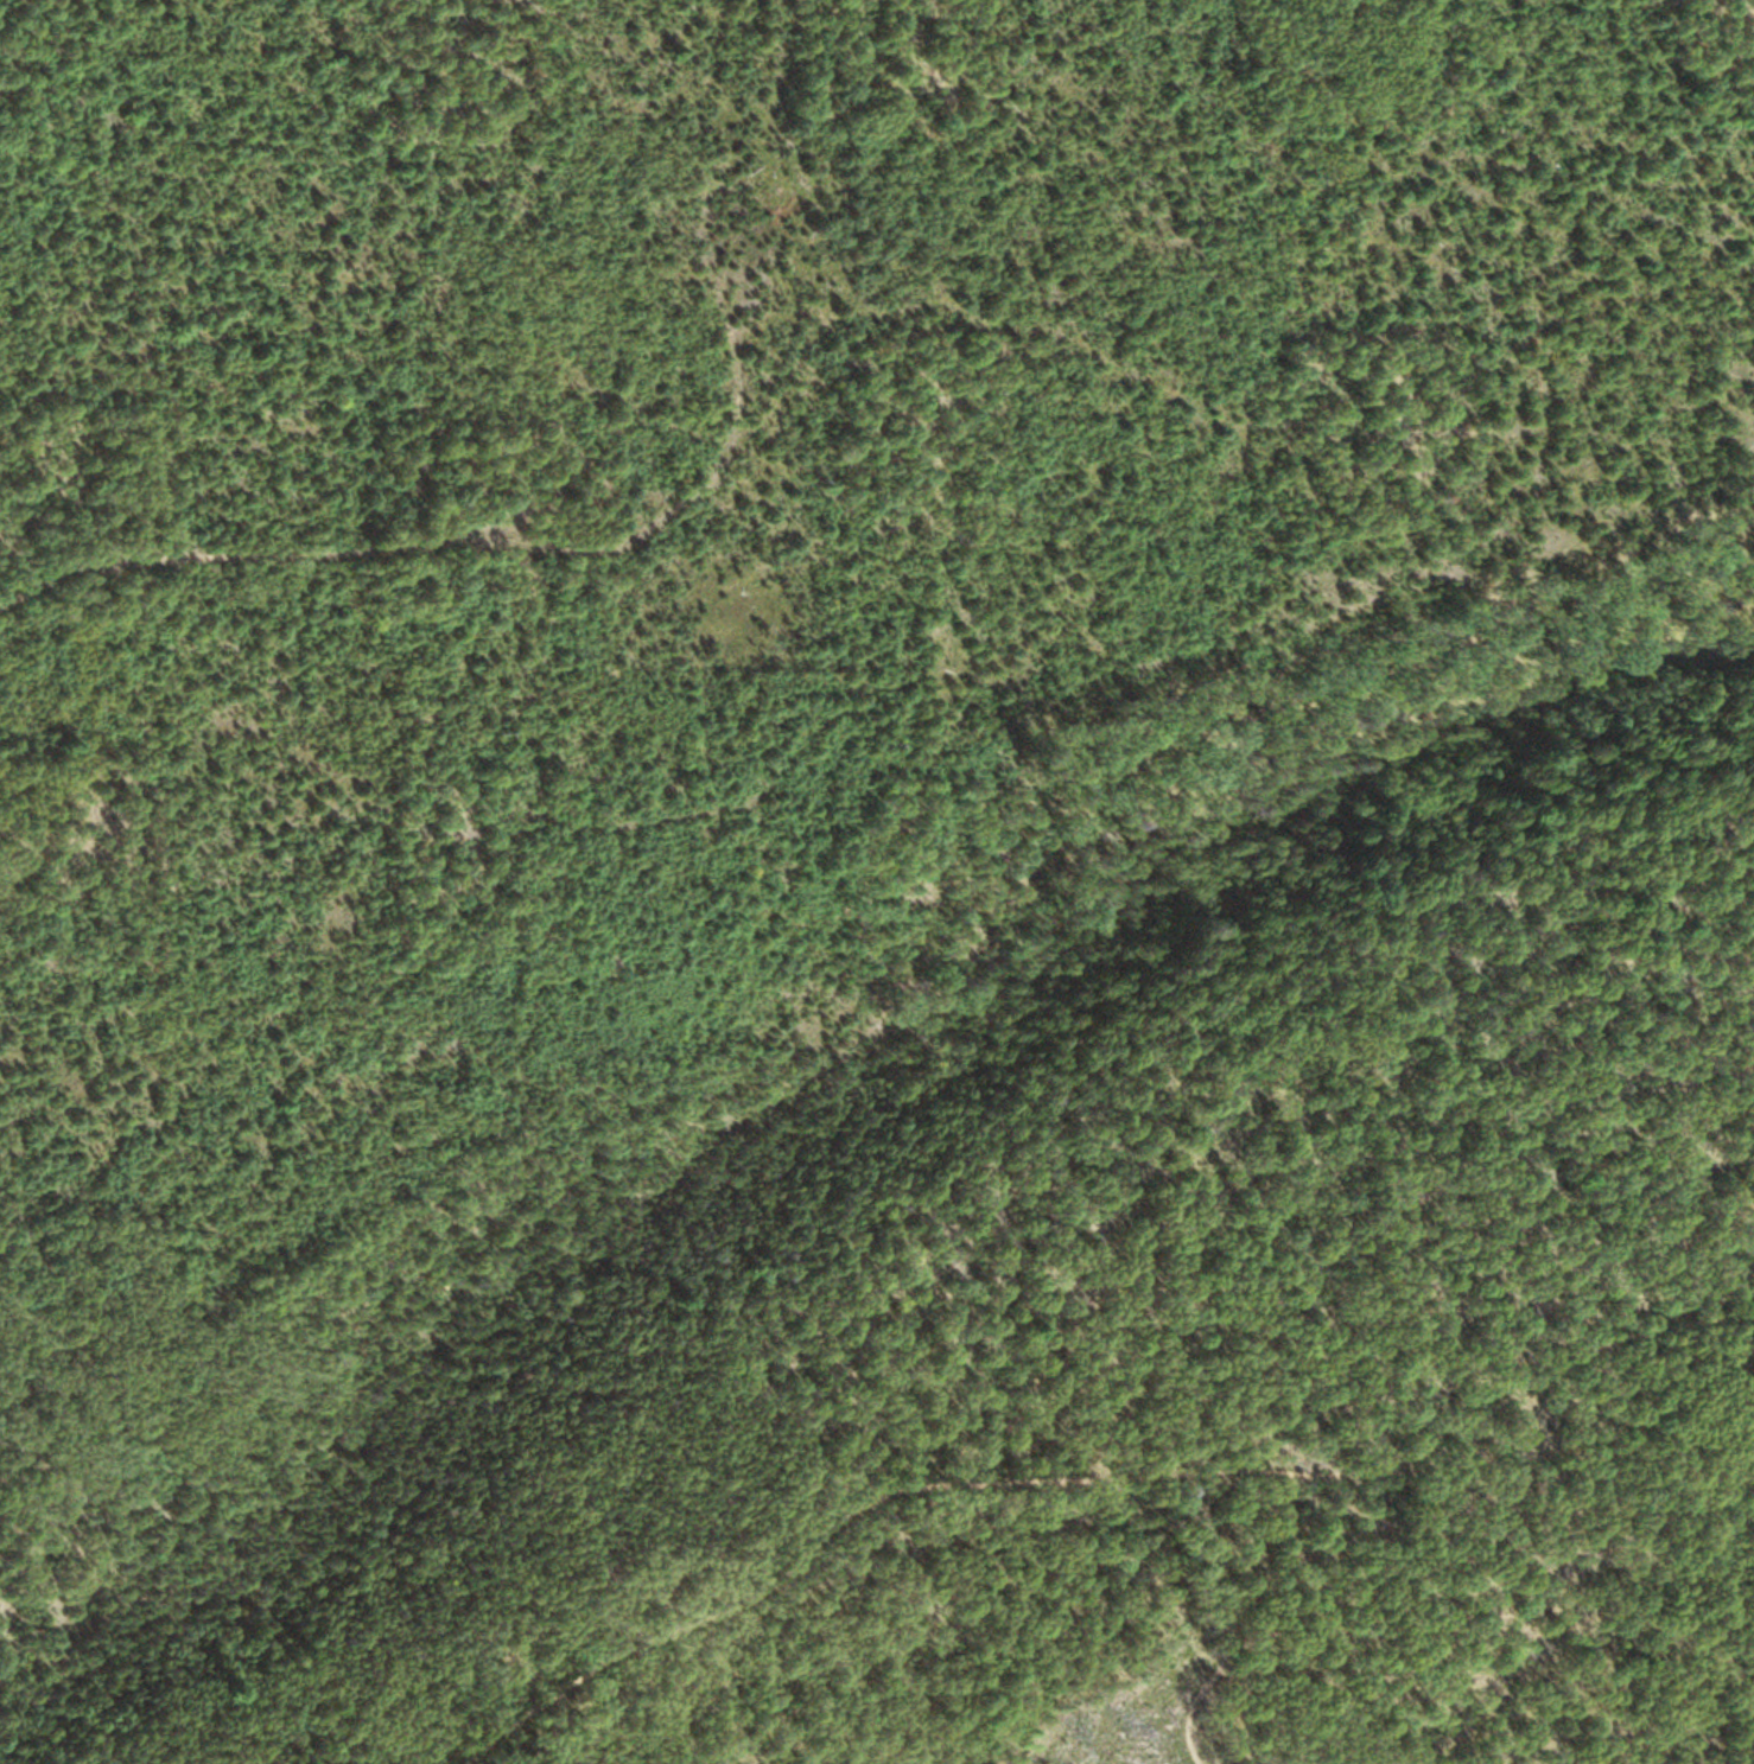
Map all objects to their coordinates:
road: (1086, 1471)
road: (74, 1520)
road: (1193, 1730)

